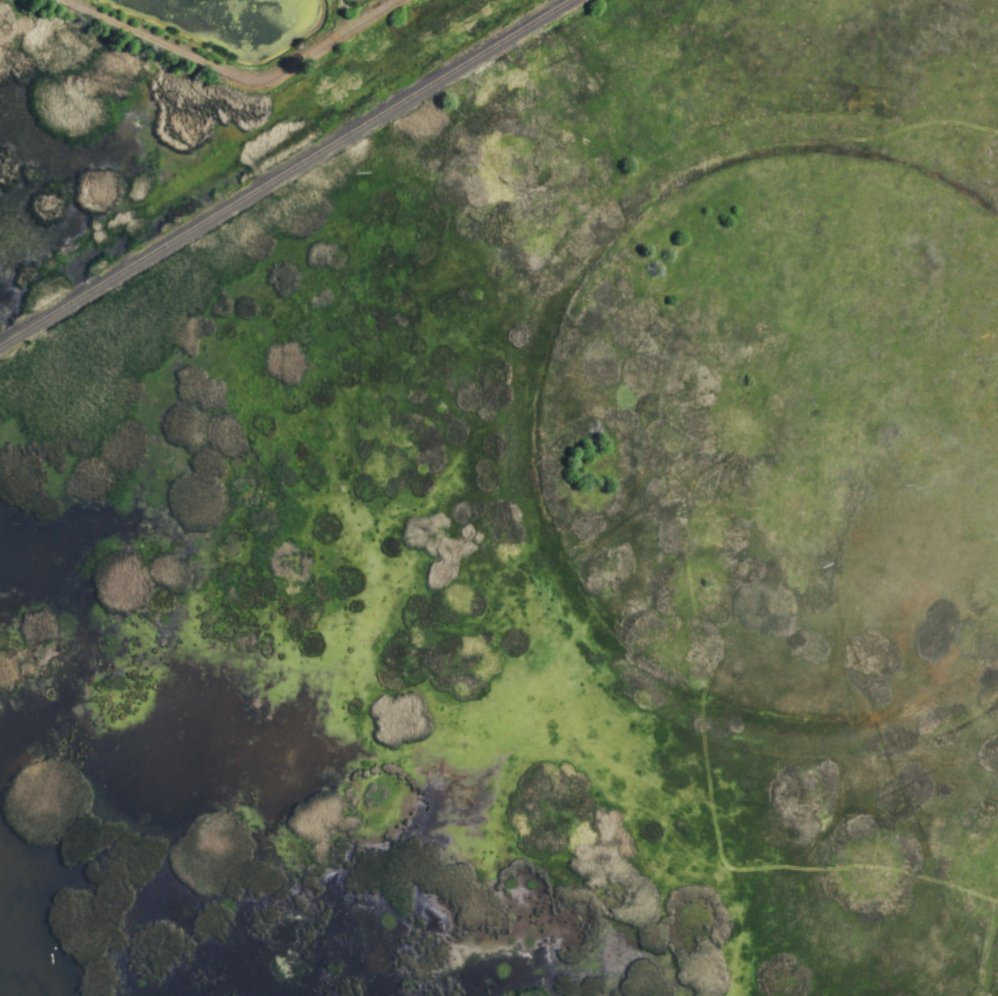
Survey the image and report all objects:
wastewater plant: (235, 23)
railway: (284, 173)

